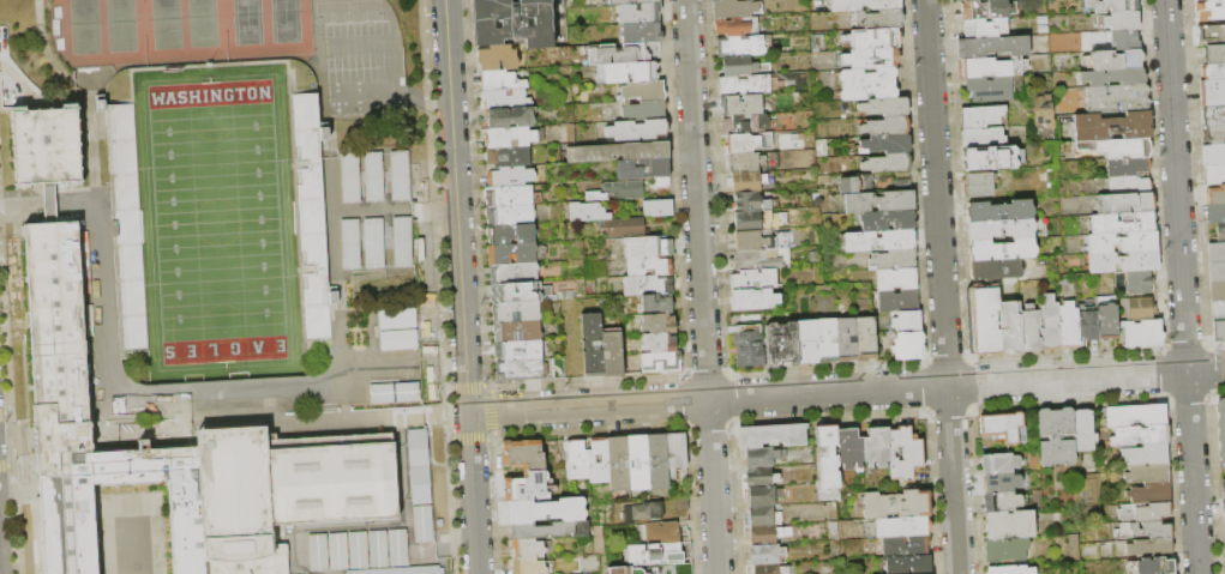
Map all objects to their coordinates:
building: (972, 0)
building: (633, 2)
building: (865, 5)
building: (1112, 6)
building: (735, 8)
building: (987, 10)
building: (1211, 11)
building: (638, 14)
park: (283, 20)
building: (879, 20)
building: (1122, 20)
park: (245, 22)
park: (200, 23)
building: (512, 23)
park: (163, 24)
park: (119, 25)
park: (83, 26)
building: (737, 26)
building: (985, 29)
building: (642, 34)
building: (1212, 35)
building: (872, 40)
building: (1124, 40)
building: (739, 47)
building: (992, 47)
building: (623, 54)
building: (1214, 54)
building: (498, 59)
building: (871, 59)
parking lot: (354, 60)
building: (1117, 60)
building: (739, 67)
building: (989, 68)
building: (626, 72)
building: (1213, 72)
building: (1113, 77)
building: (499, 80)
building: (869, 85)
building: (744, 86)
building: (990, 89)
building: (642, 91)
building: (1212, 93)
building: (1117, 98)
road: (427, 99)
building: (504, 99)
building: (741, 105)
building: (885, 108)
building: (644, 111)
building: (1213, 116)
building: (983, 117)
building: (508, 119)
building: (745, 125)
building: (885, 127)
building: (1112, 127)
building: (637, 131)
building: (1213, 135)
building: (509, 138)
building: (981, 138)
building: (747, 143)
building: (888, 144)
building: (1117, 149)
building: (619, 152)
building: (1213, 155)
building: (509, 158)
building: (991, 159)
building: (745, 163)
building: (888, 164)
building: (1128, 167)
building: (642, 169)
building: (372, 171)
building: (350, 175)
building: (396, 175)
building: (1214, 175)
building: (510, 177)
building: (661, 182)
building: (747, 182)
building: (854, 183)
building: (979, 185)
building: (1129, 186)
building: (620, 192)
building: (509, 195)
building: (1215, 195)
road: (19, 203)
road: (44, 203)
building: (751, 203)
building: (881, 203)
building: (1125, 204)
road: (422, 206)
road: (388, 207)
building: (659, 209)
building: (588, 212)
building: (998, 212)
building: (1215, 215)
building: (310, 216)
building: (510, 216)
building: (889, 220)
building: (750, 222)
park: (218, 224)
building: (1123, 224)
building: (624, 228)
building: (999, 230)
building: (383, 234)
building: (1220, 234)
building: (510, 235)
building: (761, 241)
building: (879, 241)
building: (367, 242)
building: (1123, 242)
building: (400, 243)
building: (649, 247)
building: (1001, 250)
building: (1217, 253)
building: (511, 254)
building: (761, 260)
building: (895, 260)
building: (1124, 262)
building: (648, 266)
building: (995, 270)
building: (1217, 272)
building: (514, 273)
building: (896, 279)
building: (753, 280)
building: (1141, 283)
road: (461, 286)
building: (647, 286)
road: (701, 286)
road: (942, 286)
road: (1182, 286)
building: (1217, 291)
building: (520, 294)
building: (565, 296)
building: (753, 300)
building: (899, 301)
building: (657, 304)
building: (1142, 308)
building: (1218, 312)
building: (516, 313)
building: (1106, 319)
building: (398, 320)
building: (907, 321)
building: (984, 322)
building: (659, 324)
building: (1049, 324)
building: (1069, 326)
building: (1088, 326)
building: (1008, 328)
building: (1029, 331)
building: (517, 332)
building: (1218, 332)
building: (1141, 333)
building: (54, 339)
building: (846, 339)
building: (865, 339)
building: (400, 340)
building: (827, 340)
building: (660, 343)
building: (806, 343)
building: (592, 344)
building: (782, 345)
building: (749, 346)
building: (908, 346)
building: (518, 351)
building: (612, 354)
building: (662, 363)
building: (518, 370)
road: (846, 392)
building: (396, 393)
road: (126, 397)
road: (444, 415)
building: (1135, 416)
road: (348, 421)
building: (1004, 428)
building: (1220, 428)
building: (1083, 431)
building: (1139, 436)
building: (770, 437)
building: (1056, 437)
building: (673, 449)
building: (873, 449)
building: (847, 451)
building: (521, 453)
building: (825, 455)
building: (902, 455)
building: (1145, 455)
building: (576, 458)
building: (761, 458)
building: (596, 459)
building: (655, 460)
building: (635, 461)
building: (615, 463)
building: (998, 464)
building: (420, 467)
building: (1148, 473)
building: (758, 478)
building: (999, 483)
building: (1223, 484)
building: (524, 485)
building: (1151, 494)
building: (761, 496)
building: (1001, 502)
building: (680, 504)
building: (895, 506)
building: (544, 509)
building: (639, 512)
building: (1145, 513)
building: (761, 516)
building: (1009, 525)
building: (1224, 525)
building: (900, 528)
building: (538, 531)
building: (1147, 531)
building: (663, 532)
building: (764, 536)
road: (454, 538)
road: (368, 544)
building: (903, 548)
building: (523, 549)
building: (1151, 549)
building: (1004, 551)
building: (657, 554)
building: (763, 556)
building: (526, 566)
building: (907, 566)
building: (1152, 567)
building: (650, 569)
building: (767, 569)
building: (401, 570)
building: (1010, 570)

